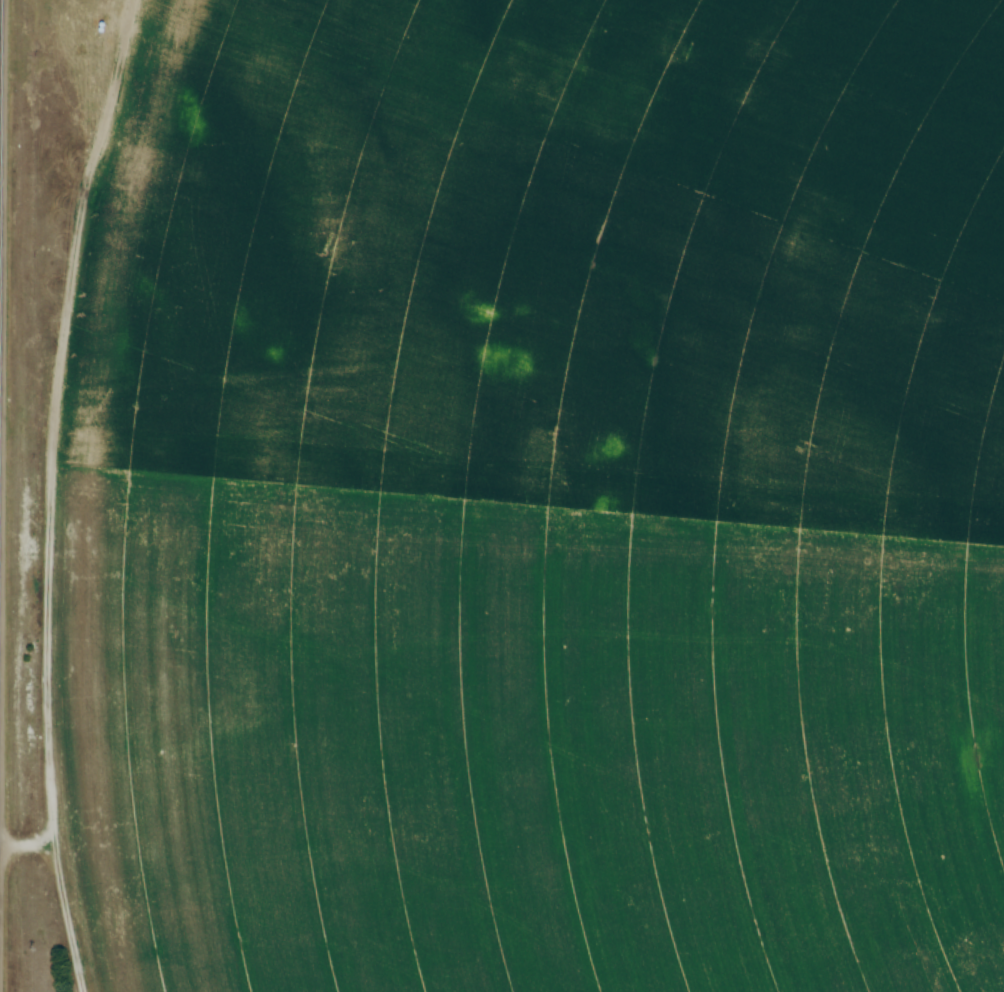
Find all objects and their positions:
building: (652, 664)
building: (728, 770)

